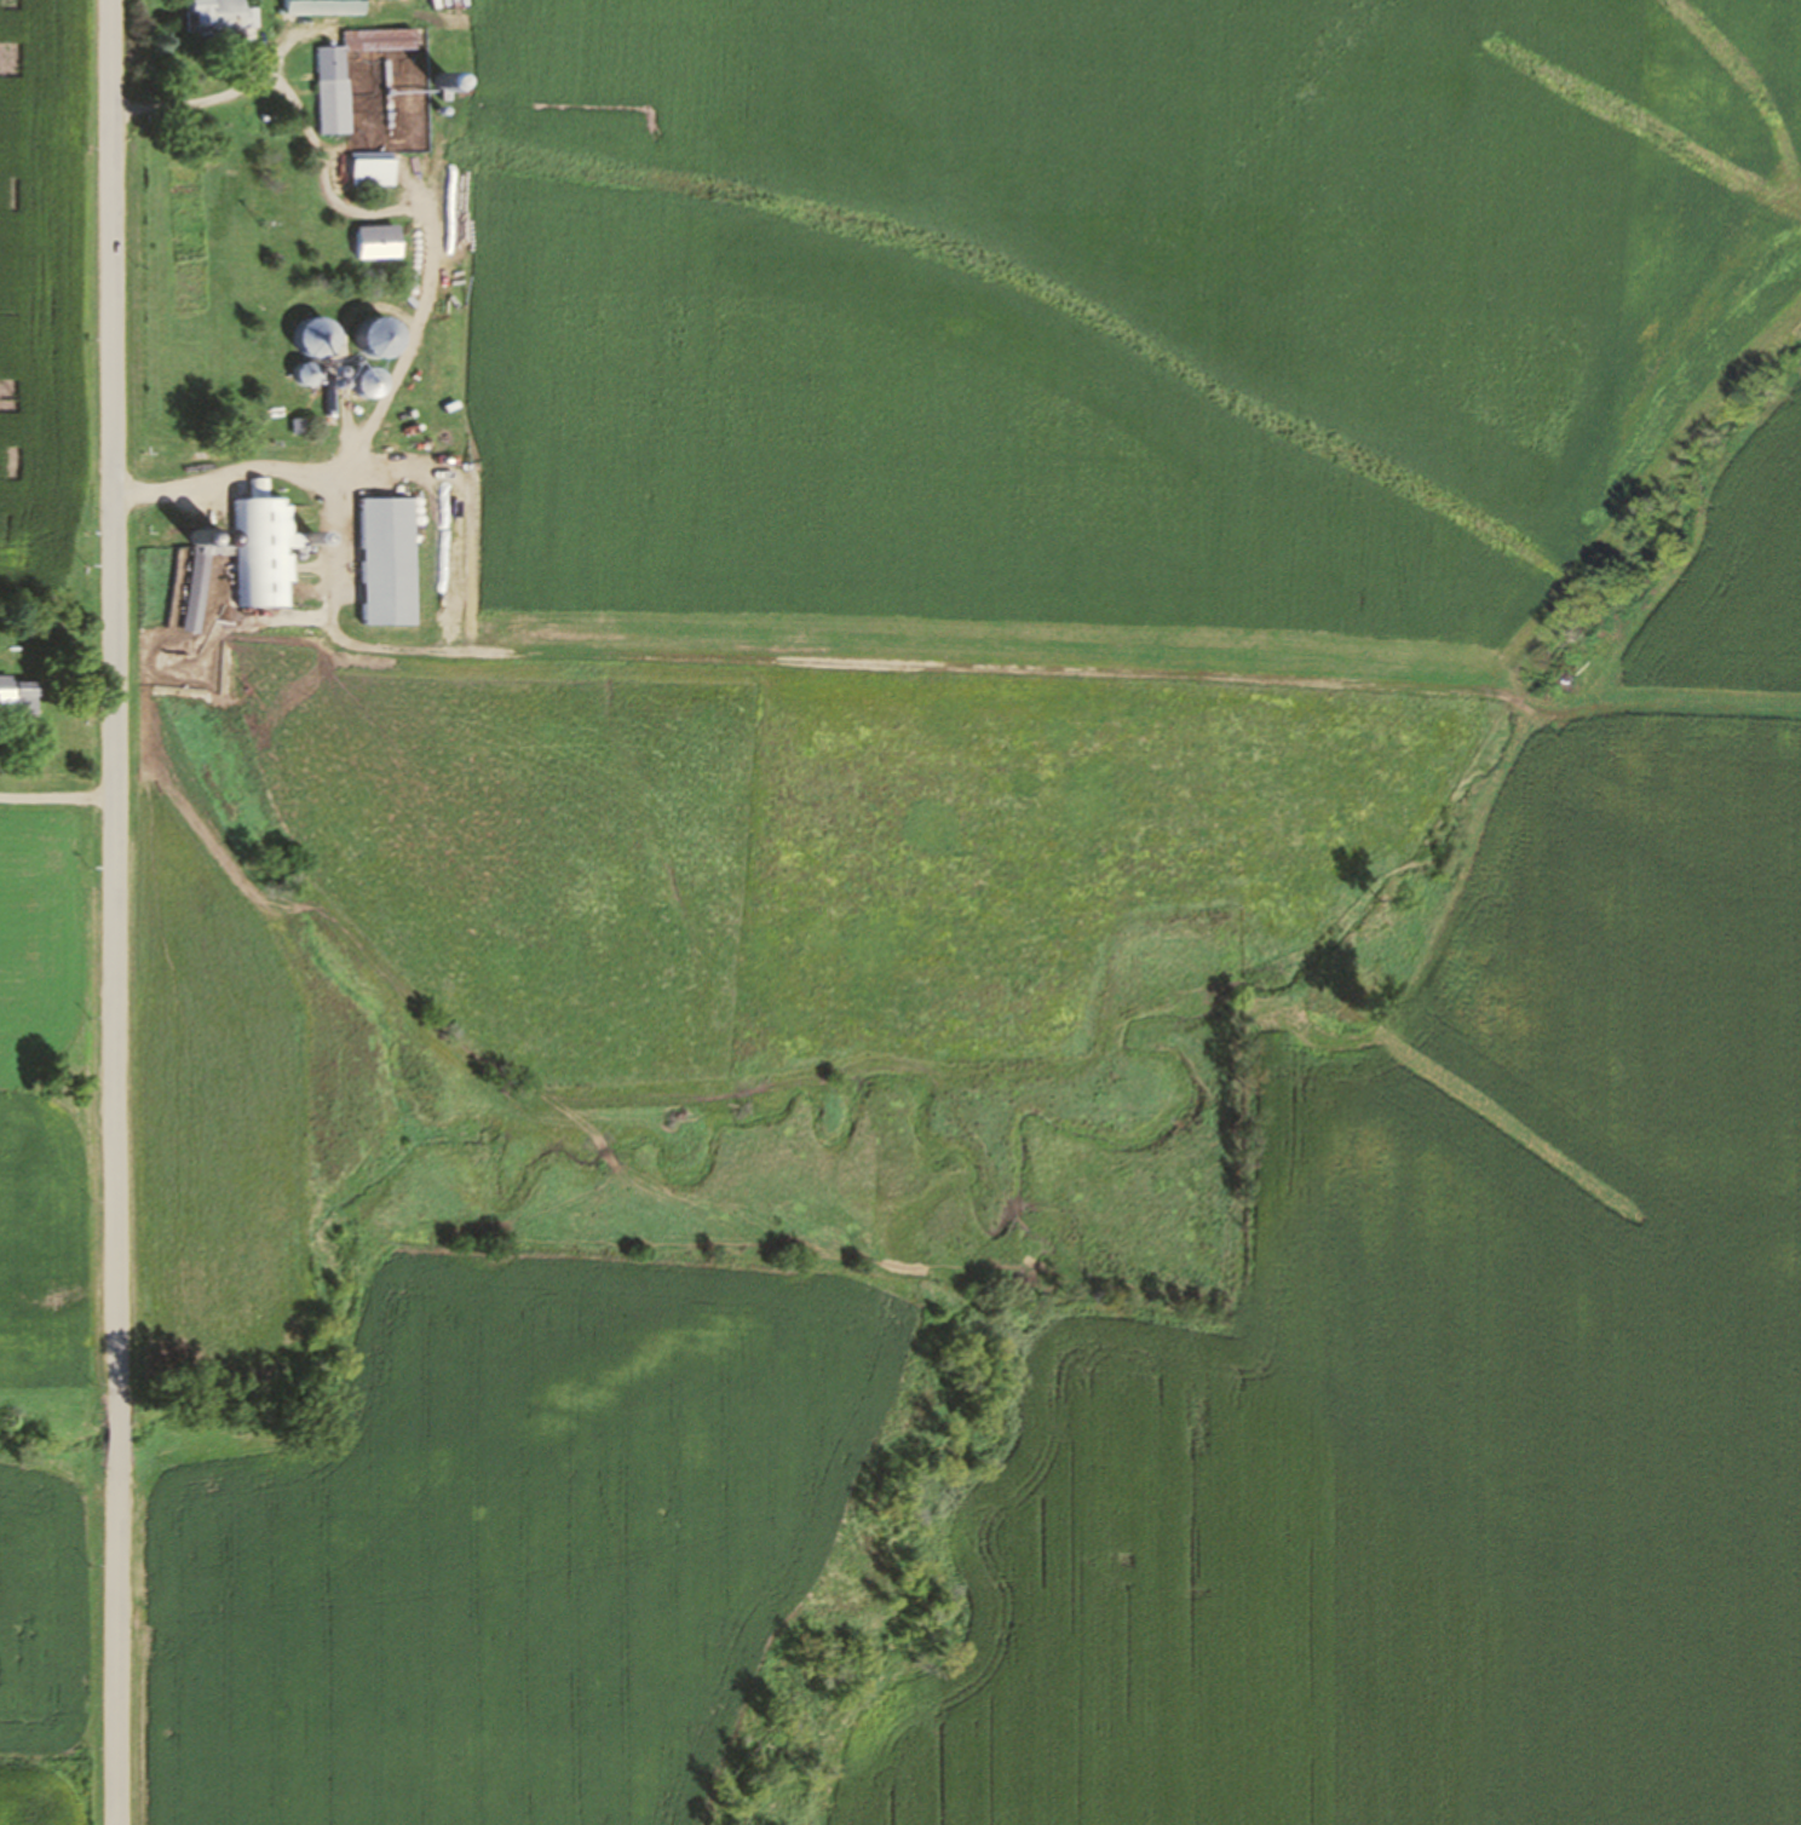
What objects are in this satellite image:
building: (324, 7)
building: (220, 16)
building: (334, 92)
building: (374, 172)
building: (317, 338)
building: (382, 339)
building: (309, 374)
building: (372, 382)
building: (264, 548)
building: (389, 562)
building: (19, 693)
road: (117, 911)

